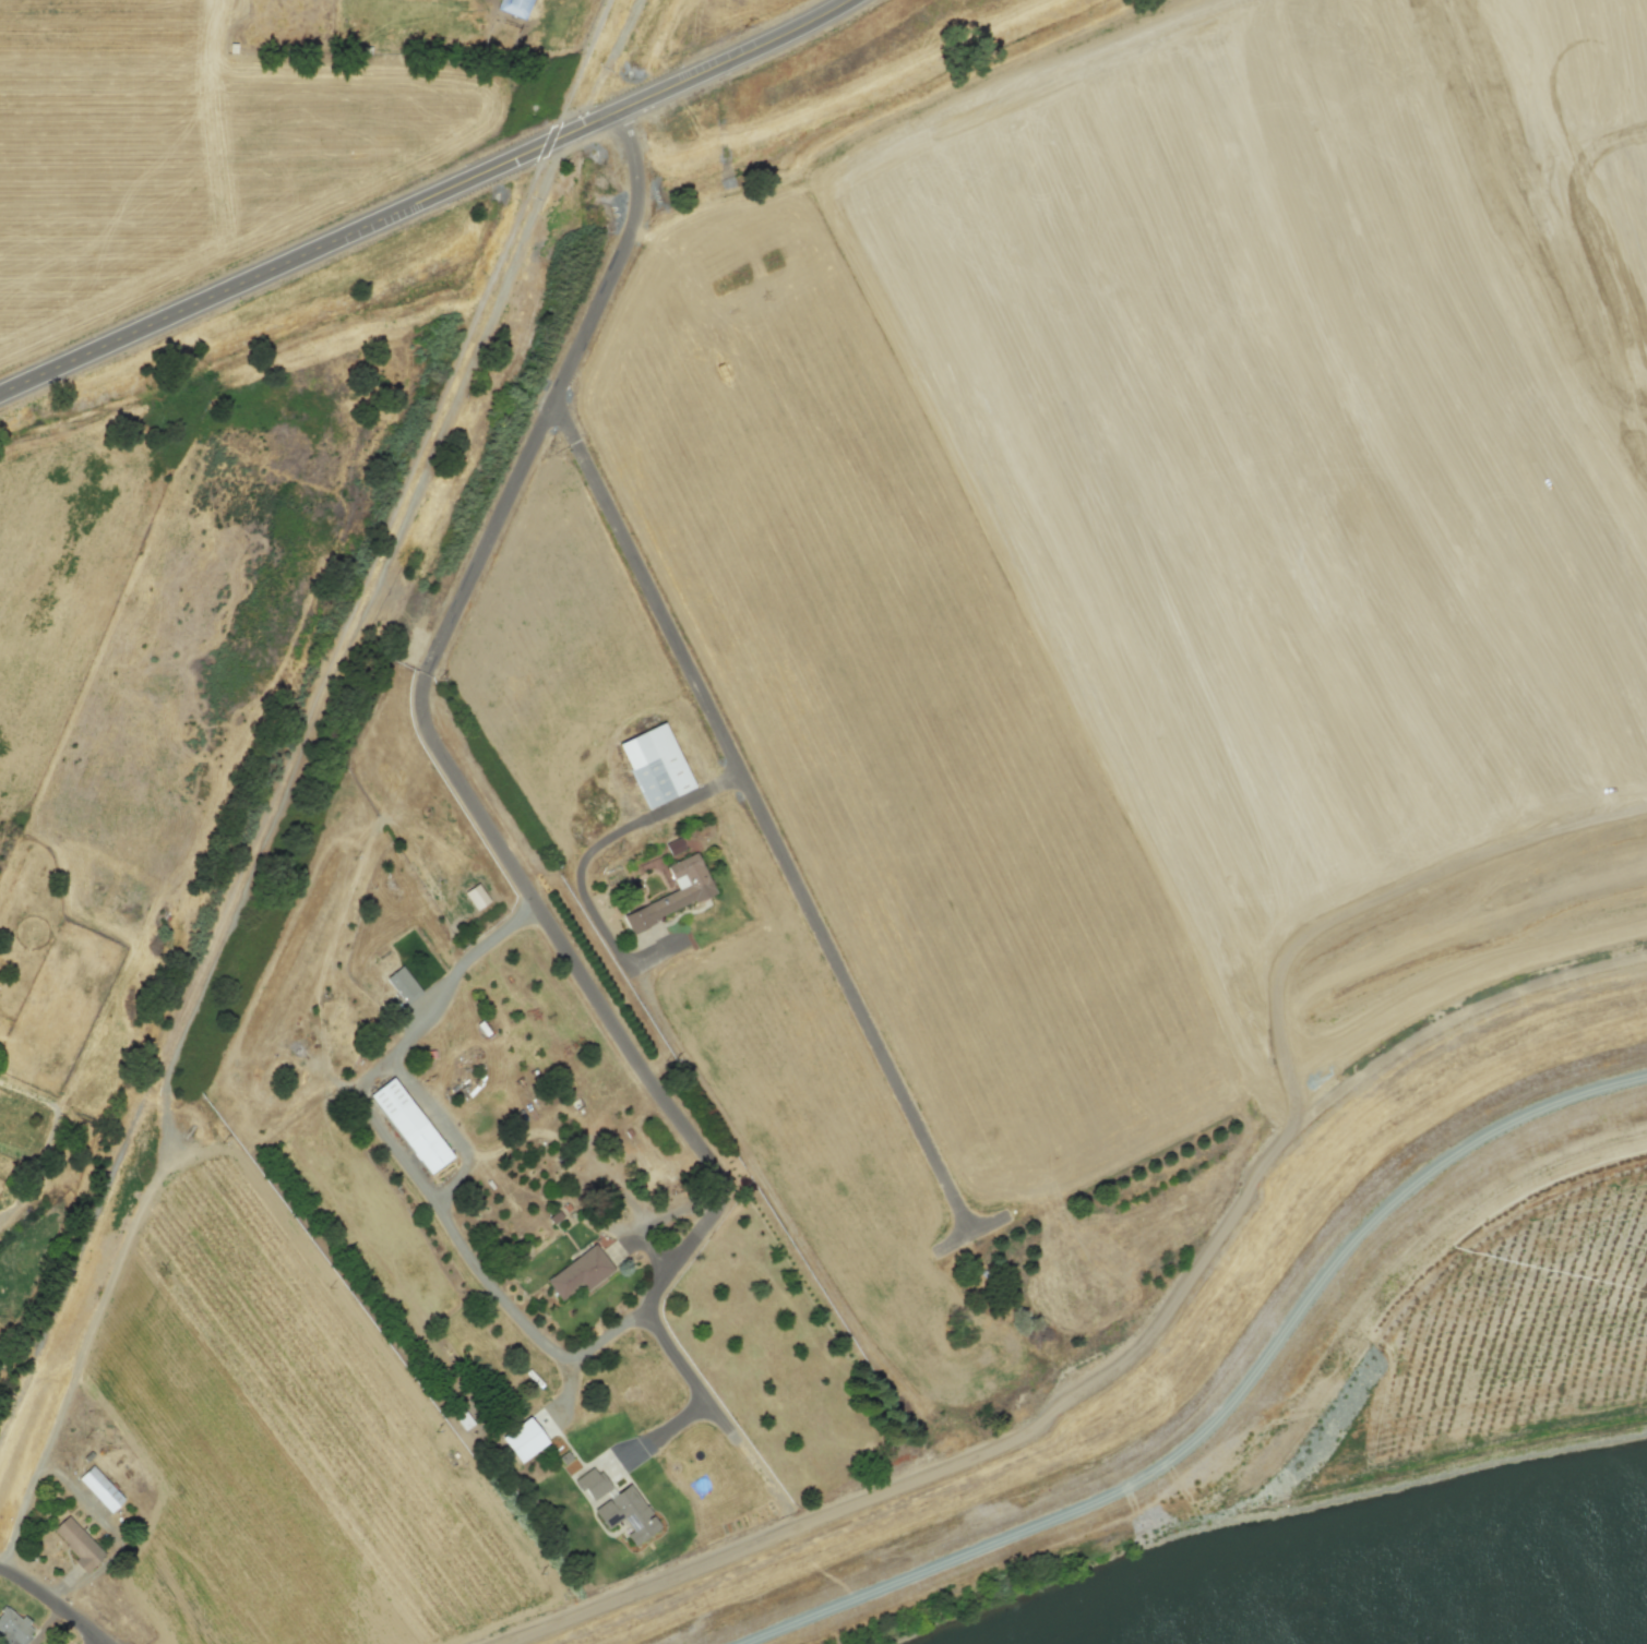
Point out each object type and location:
building: (514, 8)
road: (604, 68)
road: (705, 68)
crop: (336, 136)
crop: (102, 160)
road: (282, 261)
road: (563, 421)
crop: (1151, 631)
road: (303, 753)
building: (654, 761)
road: (451, 784)
road: (285, 787)
road: (771, 839)
building: (673, 847)
road: (581, 861)
building: (672, 891)
building: (475, 896)
building: (402, 984)
road: (423, 1021)
building: (410, 1124)
road: (49, 1139)
road: (802, 1244)
building: (578, 1271)
road: (506, 1303)
flagpole: (635, 1333)
road: (673, 1423)
building: (524, 1439)
crop: (264, 1448)
road: (1181, 1476)
building: (590, 1483)
building: (99, 1488)
road: (79, 1491)
building: (626, 1513)
road: (991, 1529)
road: (815, 1541)
building: (77, 1544)
road: (741, 1587)
road: (53, 1605)
road: (45, 1625)
building: (13, 1628)

